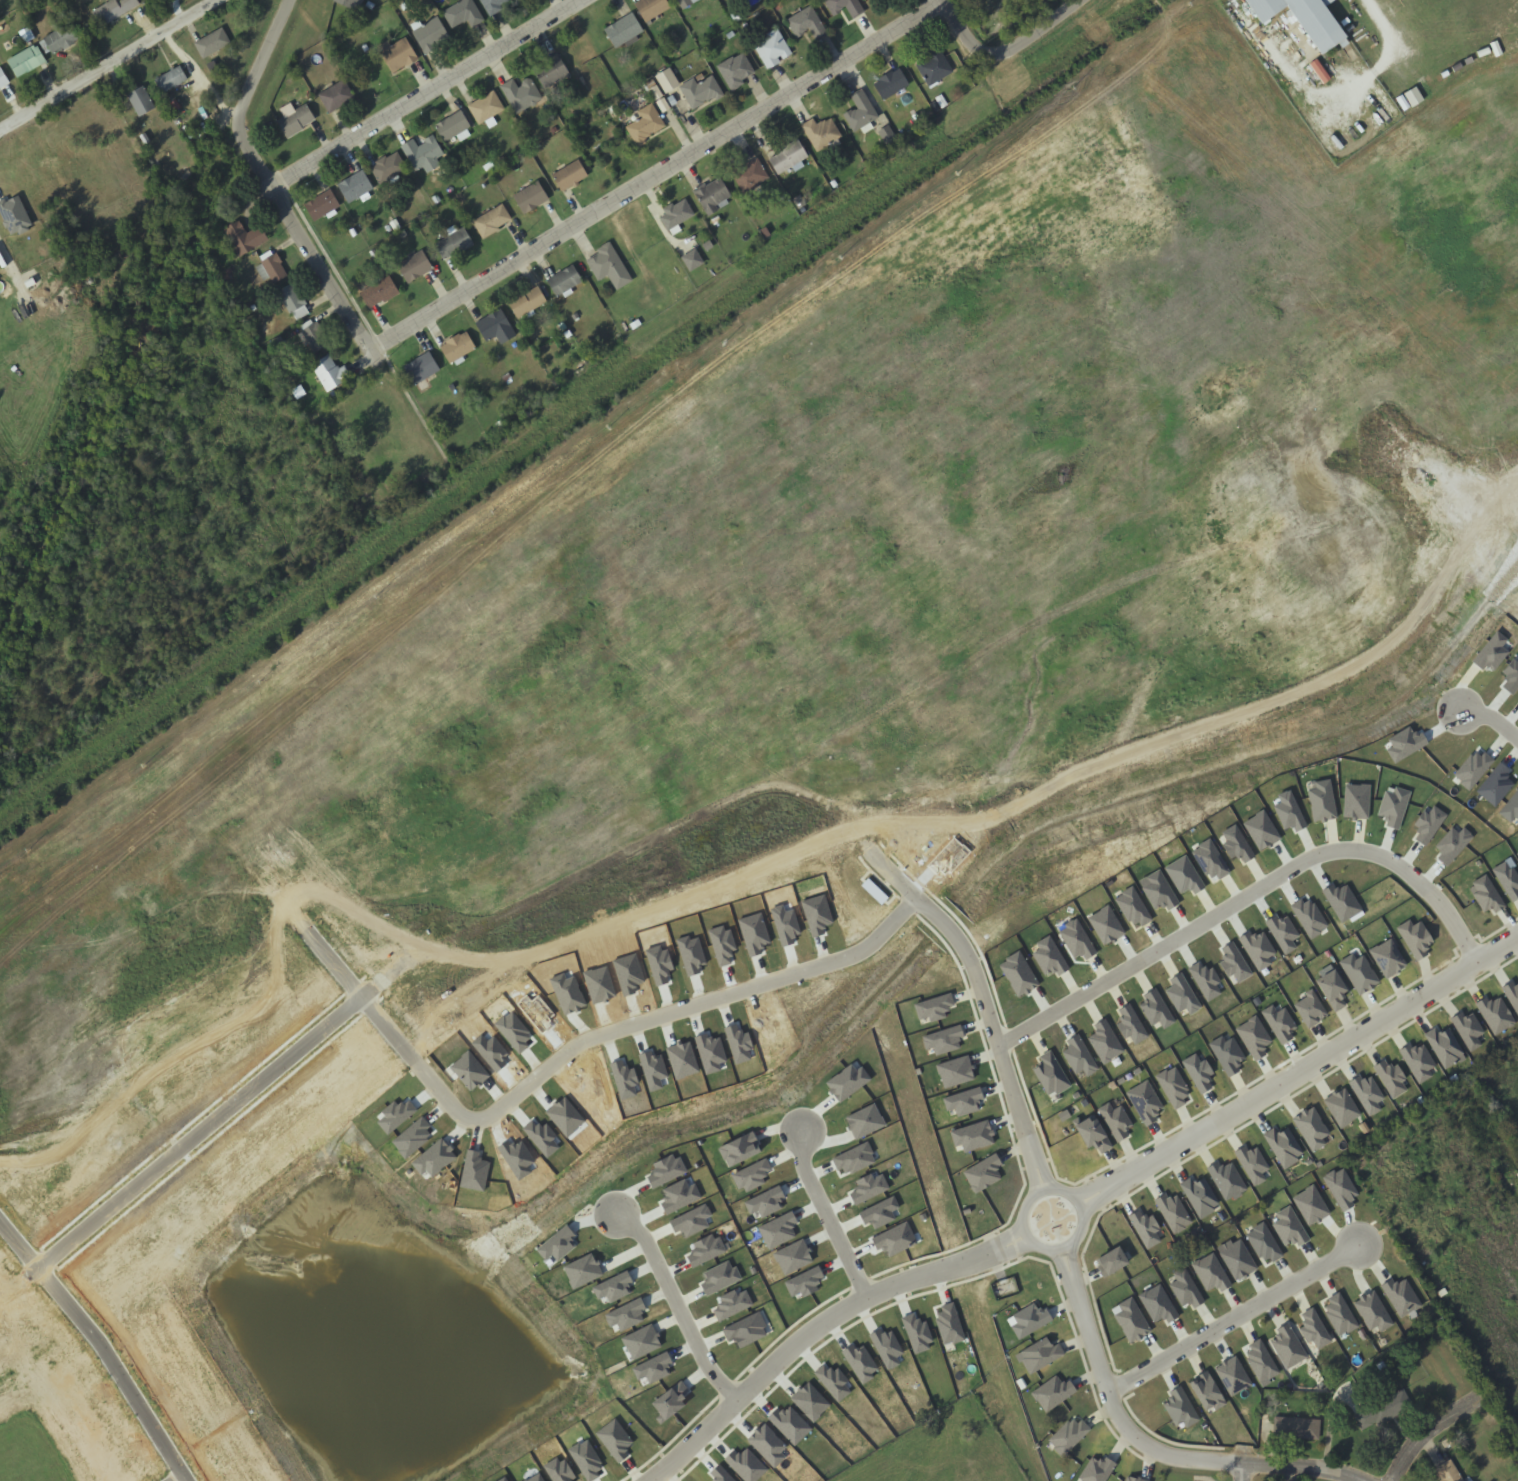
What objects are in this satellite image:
building: (684, 3)
building: (350, 4)
building: (492, 5)
building: (651, 8)
building: (113, 10)
building: (855, 10)
building: (463, 13)
building: (1305, 20)
building: (805, 22)
building: (623, 30)
building: (430, 34)
building: (63, 36)
building: (212, 43)
building: (771, 48)
building: (398, 54)
road: (1010, 56)
building: (26, 60)
road: (259, 63)
road: (103, 64)
building: (934, 67)
building: (734, 70)
building: (552, 73)
building: (3, 78)
building: (171, 79)
building: (890, 83)
building: (0, 88)
building: (700, 91)
road: (423, 93)
building: (520, 94)
building: (336, 95)
building: (141, 101)
building: (486, 108)
building: (860, 112)
building: (294, 118)
building: (644, 124)
building: (453, 126)
building: (820, 132)
building: (423, 153)
building: (788, 156)
building: (388, 168)
building: (570, 175)
road: (655, 175)
building: (749, 175)
building: (355, 186)
building: (712, 195)
building: (530, 197)
building: (321, 205)
building: (675, 215)
building: (491, 220)
building: (245, 236)
building: (452, 241)
building: (707, 245)
road: (306, 246)
building: (692, 260)
building: (608, 265)
building: (271, 266)
building: (414, 266)
building: (564, 281)
building: (379, 292)
building: (293, 300)
building: (527, 302)
building: (493, 324)
building: (314, 334)
building: (457, 347)
building: (421, 367)
building: (329, 373)
railway: (118, 386)
railway: (569, 423)
road: (1493, 719)
road: (1248, 902)
road: (612, 1030)
road: (996, 1034)
road: (1300, 1070)
road: (197, 1132)
road: (825, 1213)
road: (1080, 1236)
road: (678, 1306)
road: (1235, 1317)
road: (816, 1324)
road: (101, 1346)
road: (1113, 1400)
building: (1381, 1411)
building: (1298, 1429)
road: (1428, 1432)
road: (1305, 1469)
road: (1245, 1471)
building: (1445, 1472)

